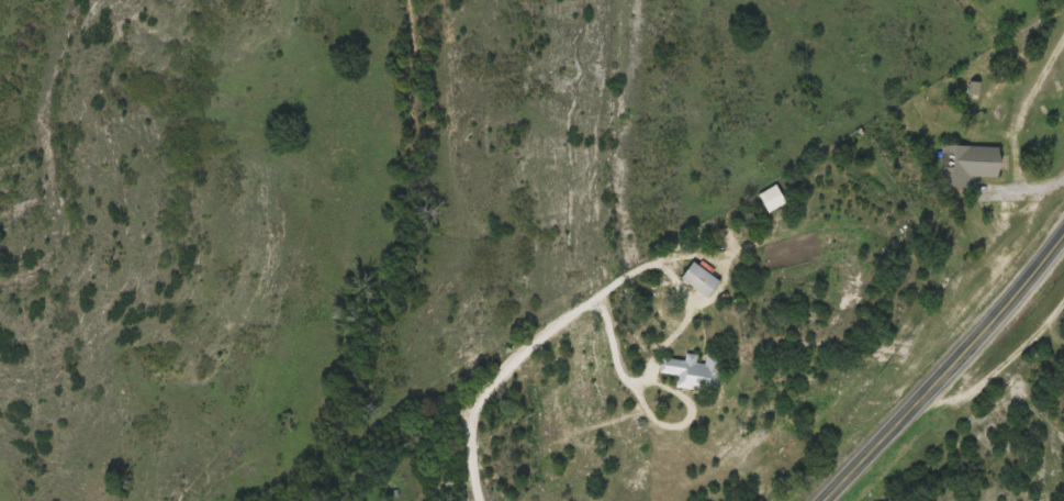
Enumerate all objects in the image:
building: (967, 164)
building: (701, 279)
road: (944, 369)
building: (695, 371)

